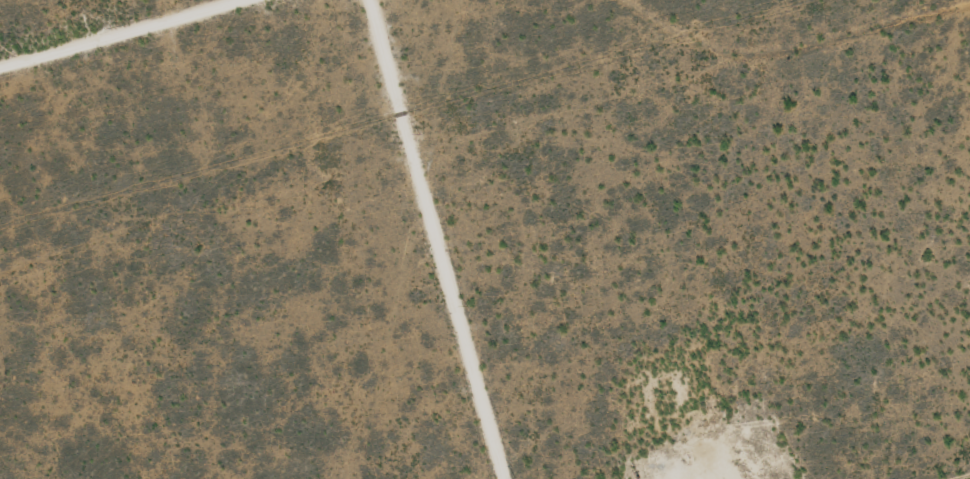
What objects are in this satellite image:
road: (113, 31)
road: (431, 239)

